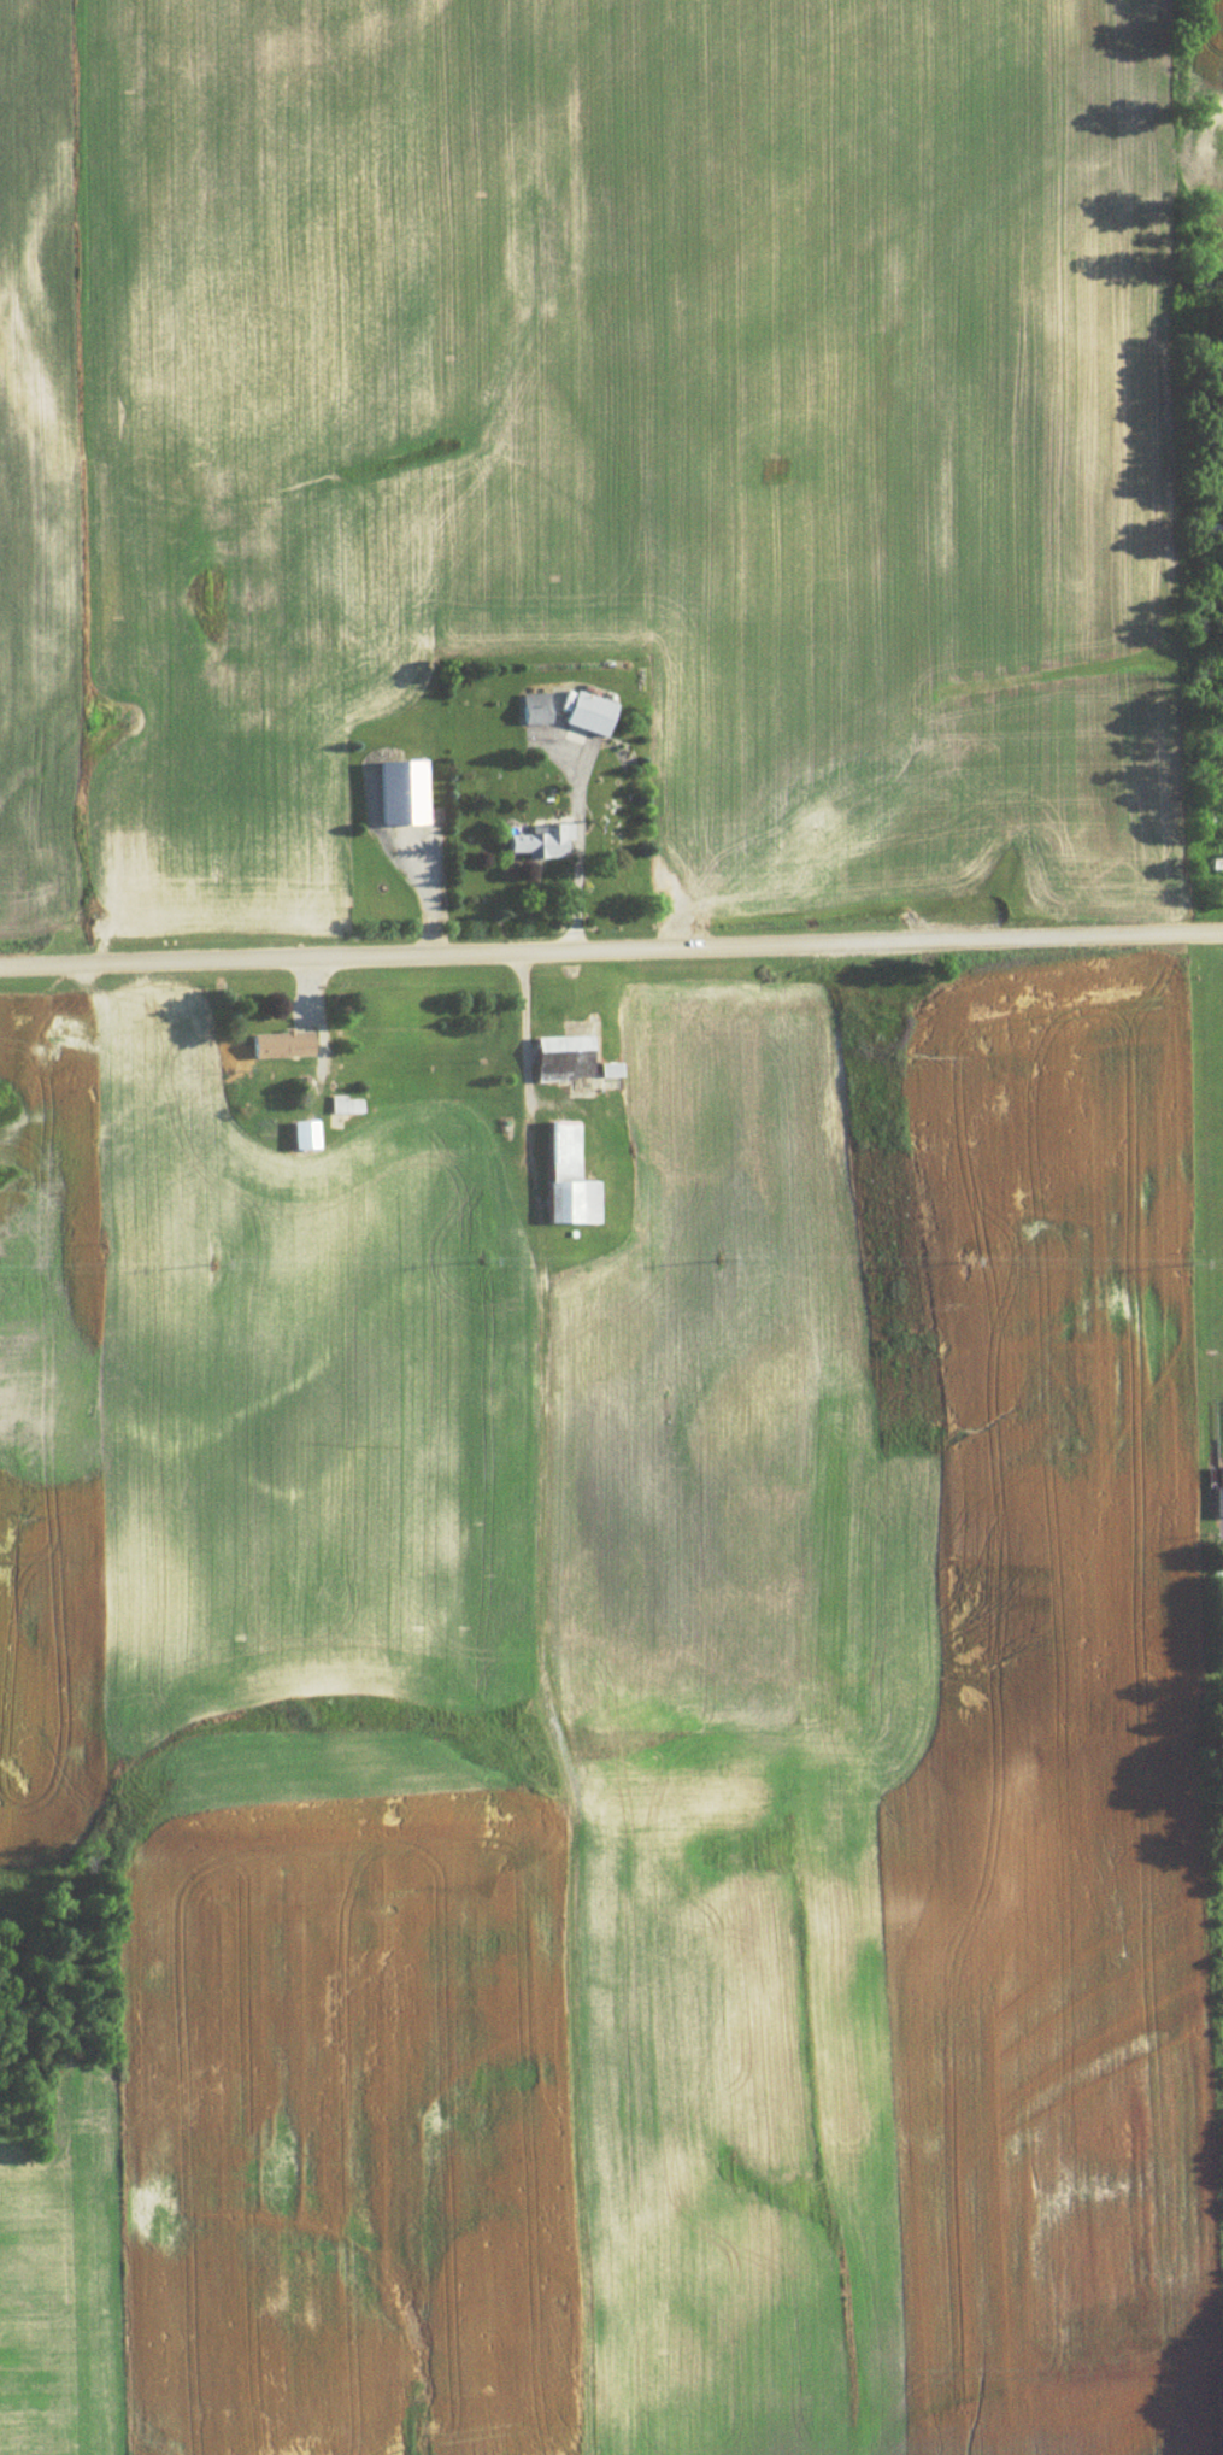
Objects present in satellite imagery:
building: (536, 706)
building: (589, 711)
building: (402, 789)
building: (541, 839)
building: (1216, 862)
road: (611, 950)
building: (282, 1043)
building: (563, 1056)
building: (610, 1068)
building: (345, 1103)
building: (305, 1133)
building: (569, 1176)
building: (1217, 1481)

